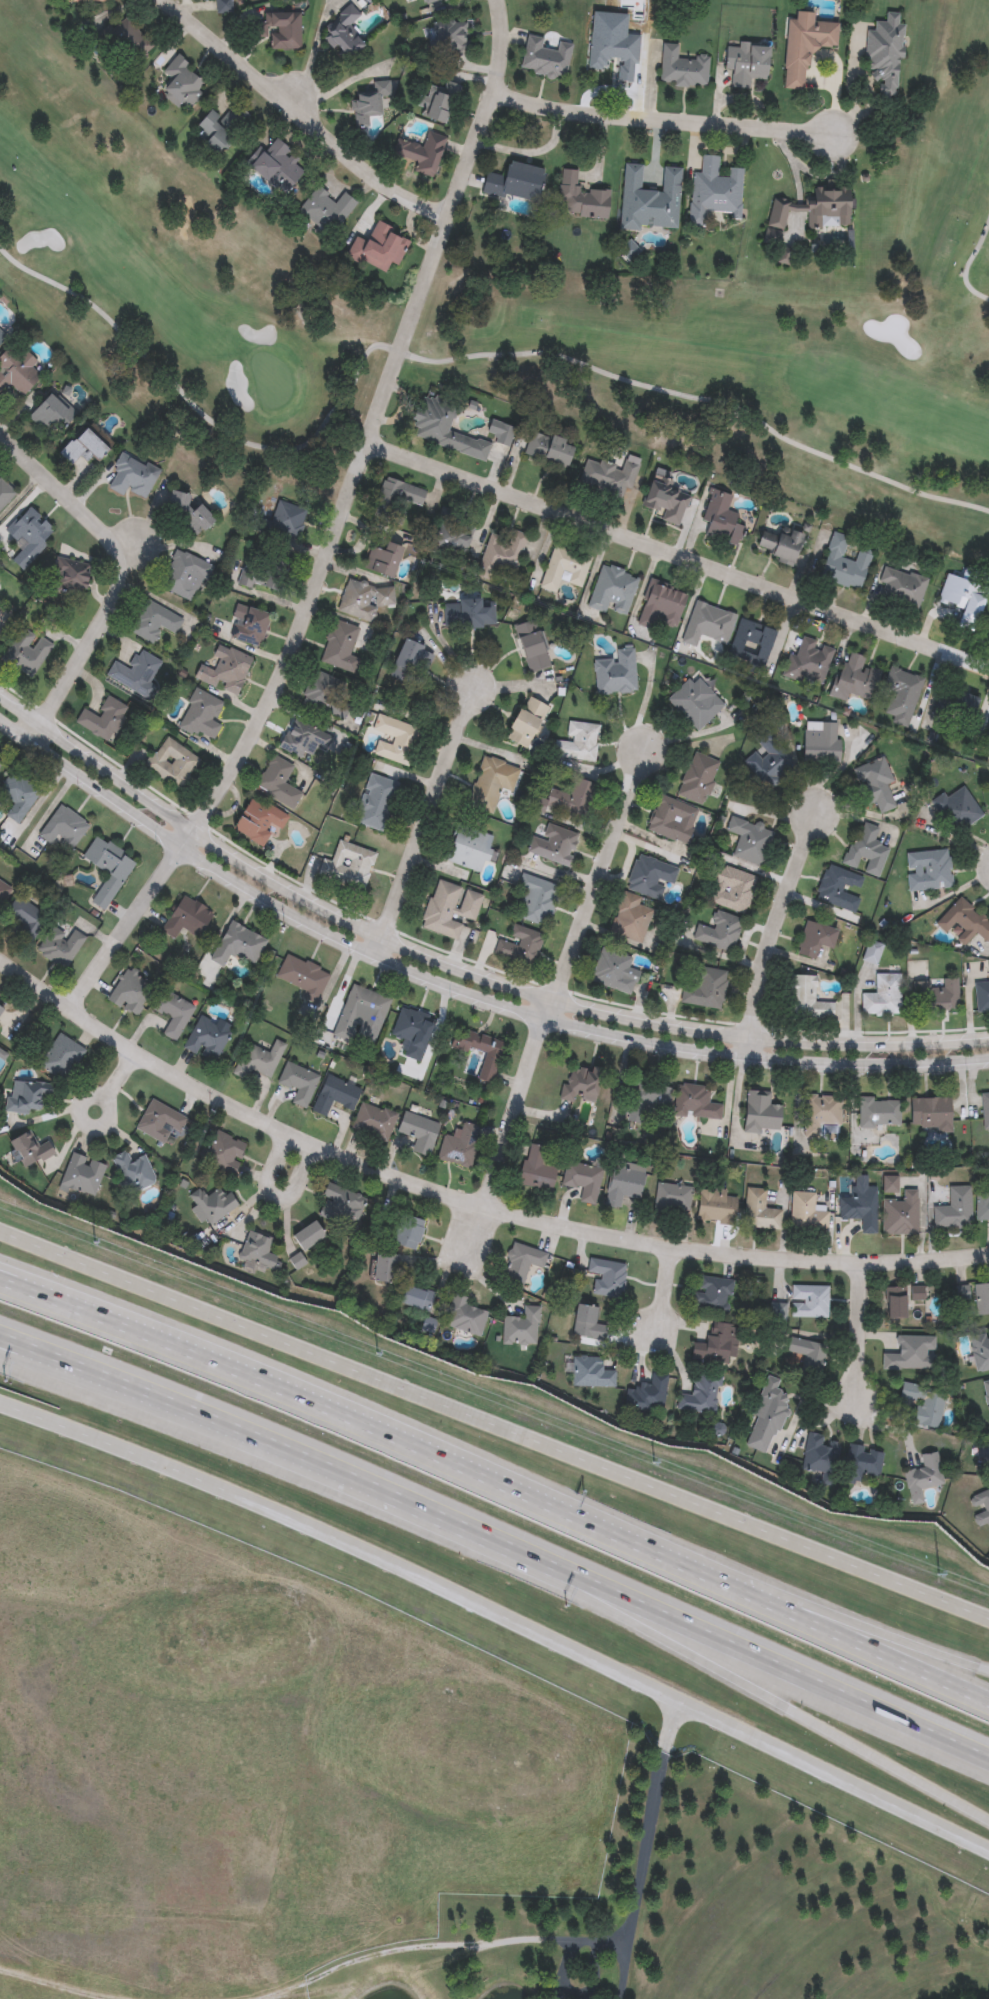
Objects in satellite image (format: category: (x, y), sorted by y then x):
building: (83, 1)
building: (434, 2)
building: (221, 6)
building: (279, 32)
building: (344, 35)
building: (450, 38)
building: (129, 42)
building: (803, 48)
building: (885, 52)
building: (614, 54)
building: (545, 58)
building: (745, 66)
road: (838, 66)
building: (682, 69)
building: (181, 84)
road: (304, 90)
building: (439, 104)
building: (364, 110)
road: (485, 115)
road: (301, 117)
road: (665, 118)
building: (218, 130)
building: (422, 154)
building: (276, 167)
building: (515, 184)
building: (715, 186)
building: (581, 199)
building: (649, 201)
building: (813, 211)
building: (326, 212)
building: (379, 250)
building: (631, 251)
road: (967, 265)
park: (517, 316)
road: (444, 361)
park: (271, 380)
building: (446, 432)
building: (548, 452)
building: (603, 479)
building: (396, 502)
building: (665, 504)
building: (720, 521)
building: (282, 524)
building: (451, 533)
building: (776, 545)
road: (679, 556)
building: (502, 558)
building: (384, 562)
building: (842, 567)
building: (563, 572)
road: (123, 574)
building: (256, 574)
building: (900, 590)
building: (612, 593)
building: (962, 598)
building: (659, 607)
building: (707, 627)
road: (296, 637)
building: (750, 647)
building: (531, 648)
building: (807, 666)
building: (615, 675)
building: (853, 681)
building: (900, 697)
building: (693, 706)
building: (955, 707)
building: (820, 744)
building: (768, 762)
building: (697, 781)
building: (874, 788)
building: (956, 812)
road: (424, 821)
building: (671, 822)
building: (3, 891)
building: (187, 918)
building: (27, 920)
road: (772, 929)
building: (60, 947)
road: (460, 965)
road: (562, 977)
road: (460, 989)
building: (128, 992)
building: (1, 1009)
building: (172, 1013)
building: (207, 1039)
building: (61, 1057)
building: (258, 1061)
road: (113, 1081)
building: (298, 1083)
building: (26, 1099)
building: (159, 1121)
building: (418, 1132)
building: (458, 1146)
building: (28, 1149)
building: (223, 1152)
road: (283, 1159)
building: (536, 1169)
building: (133, 1171)
building: (82, 1176)
building: (583, 1180)
road: (301, 1182)
building: (623, 1184)
building: (890, 1184)
building: (672, 1197)
road: (466, 1202)
building: (340, 1205)
building: (211, 1206)
building: (715, 1206)
building: (982, 1207)
building: (860, 1208)
building: (954, 1209)
building: (760, 1211)
building: (806, 1213)
building: (900, 1215)
building: (409, 1232)
building: (308, 1235)
road: (477, 1246)
building: (258, 1251)
building: (520, 1263)
building: (382, 1268)
building: (607, 1277)
building: (916, 1293)
building: (712, 1294)
road: (667, 1297)
building: (417, 1298)
building: (981, 1299)
building: (809, 1301)
building: (895, 1303)
building: (777, 1312)
building: (464, 1316)
building: (587, 1322)
building: (521, 1327)
road: (136, 1330)
road: (859, 1338)
building: (717, 1344)
building: (980, 1352)
building: (911, 1353)
building: (808, 1355)
building: (590, 1373)
road: (107, 1390)
building: (986, 1394)
road: (107, 1395)
building: (700, 1395)
building: (647, 1396)
building: (924, 1404)
building: (767, 1417)
road: (494, 1425)
building: (983, 1453)
building: (819, 1456)
building: (860, 1464)
building: (923, 1477)
road: (525, 1494)
building: (981, 1507)
road: (433, 1522)
road: (499, 1613)
road: (883, 1637)
road: (883, 1657)
road: (820, 1692)
road: (817, 1724)
road: (665, 1738)
road: (636, 1888)

